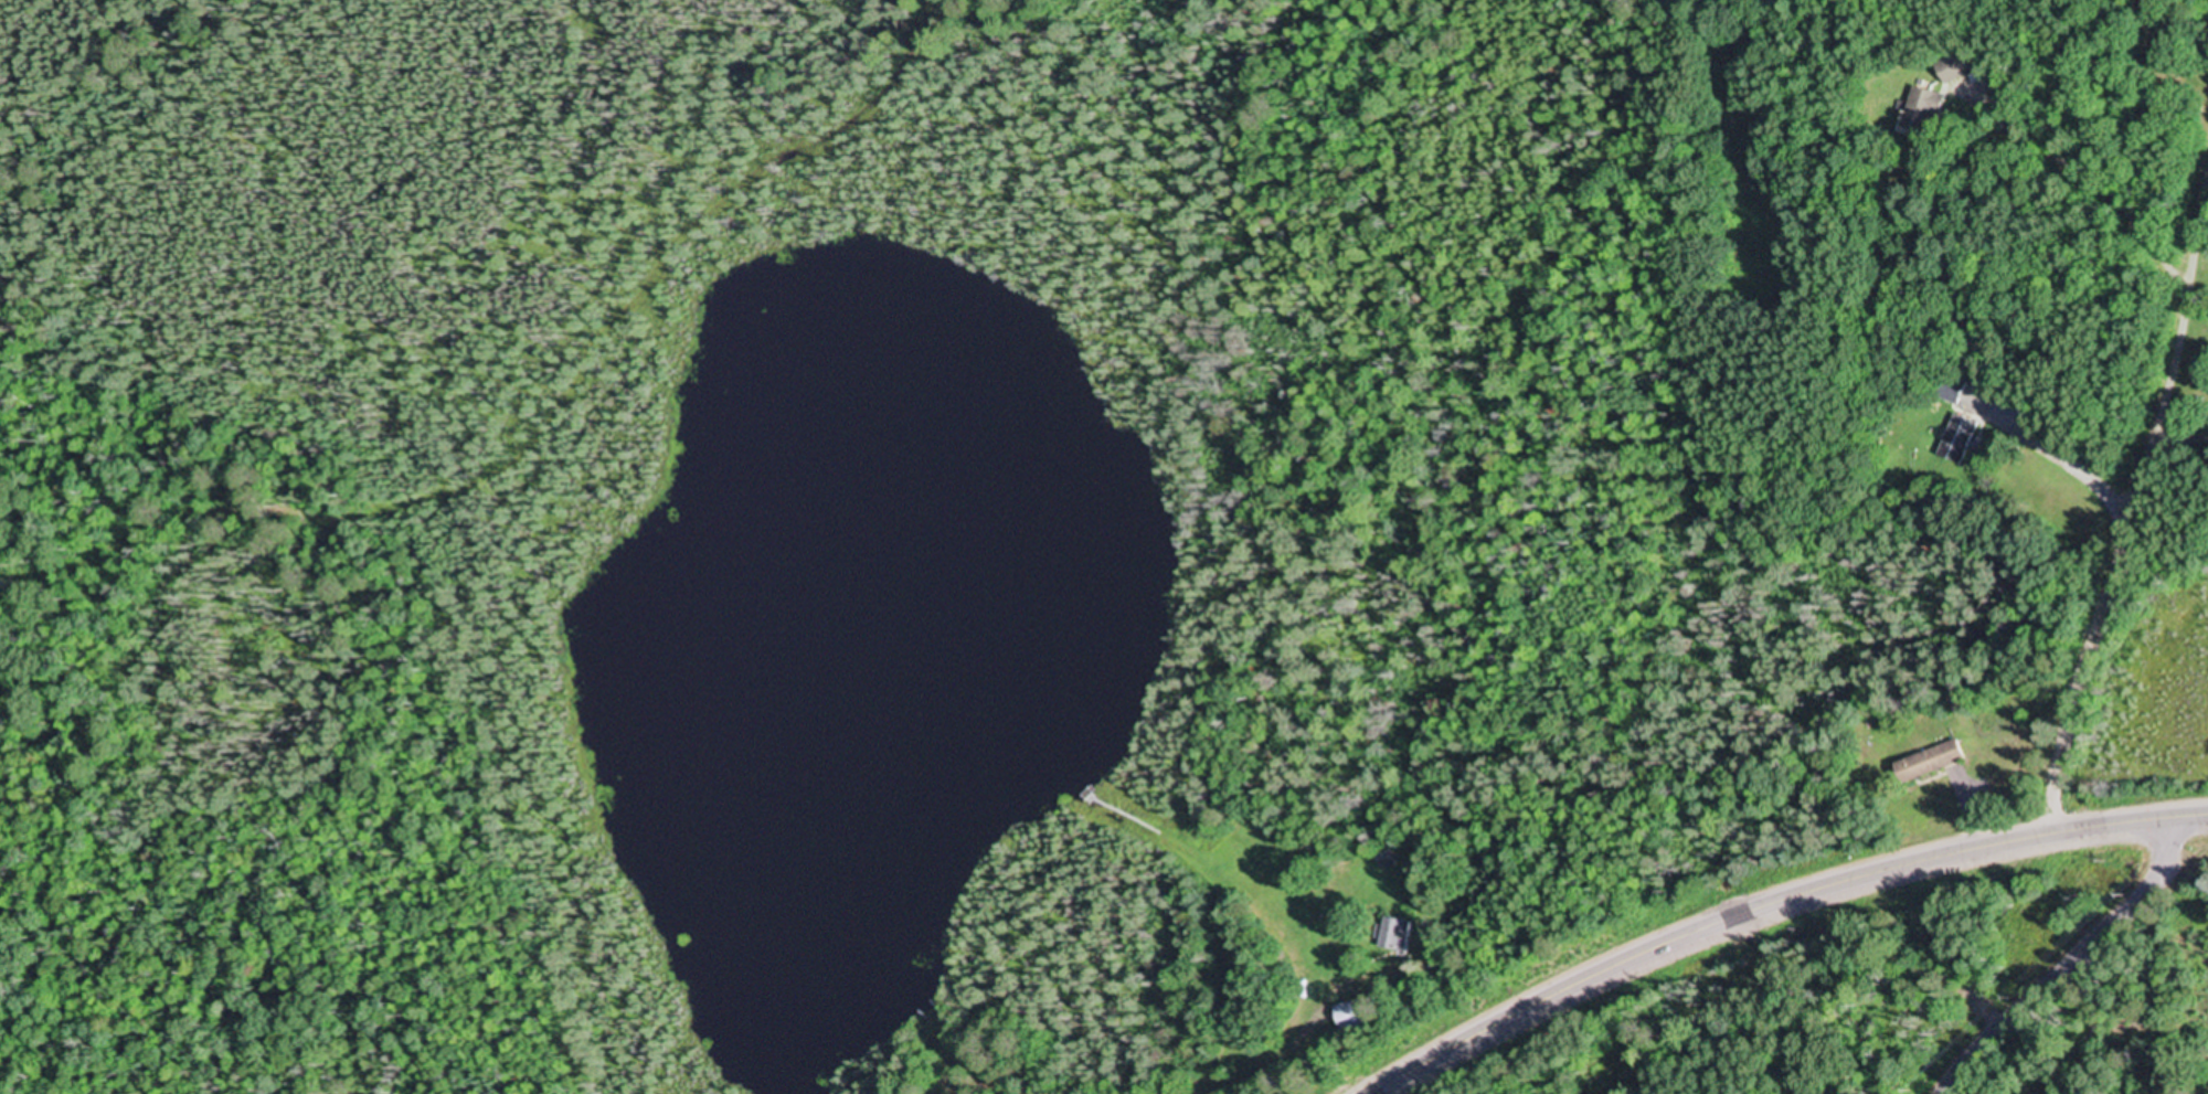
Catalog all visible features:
building: (1950, 68)
building: (1922, 114)
building: (1947, 391)
building: (1954, 442)
road: (2127, 512)
building: (1923, 764)
building: (1383, 861)
road: (1775, 905)
building: (1391, 936)
road: (2073, 963)
building: (1352, 1015)
road: (2079, 1033)

